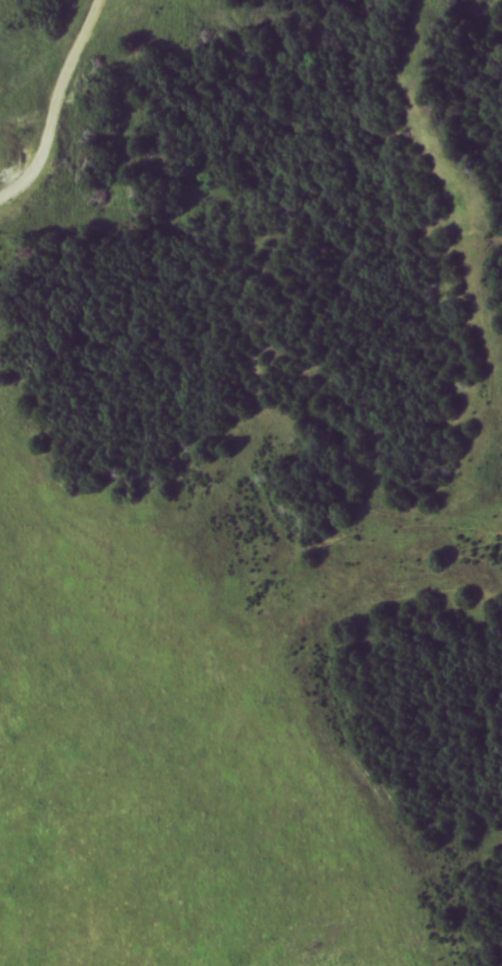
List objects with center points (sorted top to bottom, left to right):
road: (52, 107)

